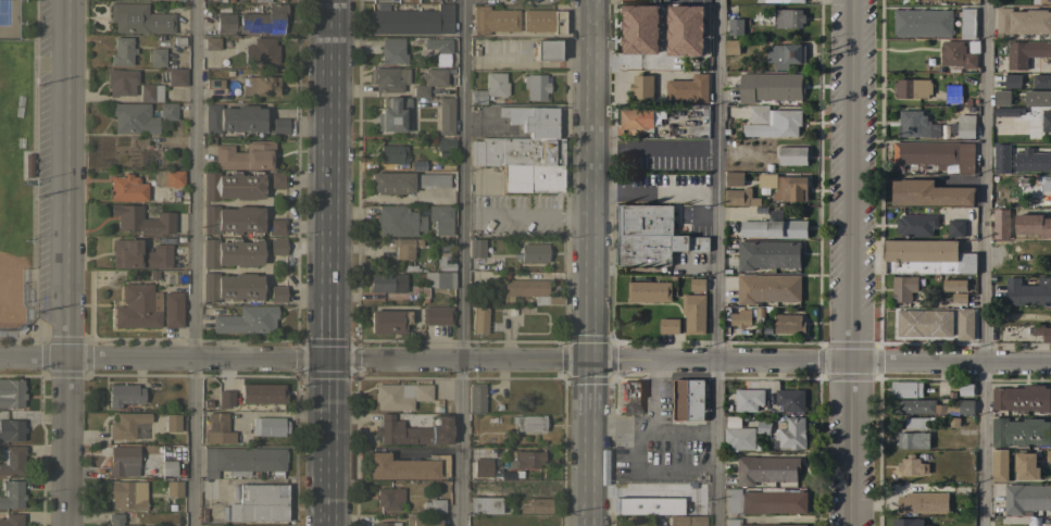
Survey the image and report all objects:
building: (779, 1)
building: (1042, 1)
park: (8, 18)
building: (139, 18)
building: (788, 18)
building: (263, 20)
building: (411, 20)
building: (493, 20)
building: (542, 21)
building: (225, 23)
building: (922, 23)
building: (1022, 23)
building: (967, 24)
building: (735, 26)
building: (640, 29)
building: (685, 30)
building: (212, 43)
building: (437, 43)
building: (731, 47)
building: (261, 50)
building: (391, 50)
building: (547, 50)
building: (122, 51)
building: (1025, 53)
building: (960, 54)
building: (786, 55)
building: (157, 57)
building: (441, 59)
road: (652, 60)
building: (176, 77)
building: (389, 78)
building: (429, 80)
building: (1011, 80)
building: (120, 82)
building: (1041, 82)
building: (213, 83)
building: (259, 85)
building: (535, 86)
building: (641, 87)
building: (489, 88)
building: (911, 88)
building: (687, 90)
building: (150, 92)
building: (953, 93)
building: (1001, 98)
building: (1038, 98)
building: (771, 103)
building: (167, 111)
building: (1006, 112)
building: (393, 114)
building: (446, 116)
building: (133, 117)
building: (233, 118)
building: (640, 118)
building: (531, 120)
building: (1046, 121)
building: (278, 125)
building: (915, 125)
building: (963, 126)
building: (208, 140)
building: (446, 143)
building: (390, 153)
building: (934, 154)
building: (245, 155)
building: (792, 155)
building: (1000, 158)
building: (522, 161)
building: (27, 165)
park: (15, 166)
building: (414, 166)
building: (1047, 166)
building: (168, 178)
building: (734, 178)
building: (277, 179)
road: (329, 179)
building: (404, 181)
building: (1044, 183)
building: (232, 185)
building: (783, 187)
building: (126, 188)
building: (929, 193)
building: (154, 195)
building: (173, 195)
building: (739, 198)
building: (440, 218)
building: (140, 220)
building: (232, 220)
building: (645, 220)
building: (1043, 220)
building: (399, 221)
building: (915, 225)
building: (277, 226)
building: (774, 227)
building: (955, 228)
building: (277, 246)
building: (405, 247)
building: (476, 248)
building: (655, 248)
building: (230, 252)
building: (534, 252)
building: (139, 254)
building: (767, 254)
building: (441, 255)
building: (926, 258)
road: (590, 262)
road: (849, 262)
road: (984, 262)
road: (62, 263)
road: (192, 263)
road: (461, 263)
road: (715, 263)
building: (409, 268)
building: (438, 278)
building: (386, 281)
building: (698, 285)
building: (954, 286)
building: (230, 287)
building: (903, 288)
building: (767, 289)
building: (530, 290)
building: (648, 291)
building: (1028, 292)
building: (277, 293)
building: (958, 298)
building: (137, 306)
building: (172, 309)
building: (759, 312)
building: (693, 313)
building: (436, 315)
building: (740, 318)
building: (246, 320)
building: (387, 321)
building: (480, 322)
building: (788, 324)
building: (923, 324)
building: (668, 326)
building: (1041, 331)
road: (714, 341)
road: (164, 359)
traffic signals: (329, 360)
road: (459, 360)
traffic signals: (590, 361)
road: (819, 362)
building: (904, 389)
building: (964, 390)
building: (11, 391)
building: (262, 392)
building: (123, 393)
building: (399, 394)
building: (225, 397)
building: (475, 397)
building: (630, 397)
building: (1022, 399)
building: (688, 400)
building: (747, 400)
building: (790, 400)
building: (205, 403)
building: (919, 406)
building: (965, 406)
building: (171, 422)
building: (441, 422)
building: (528, 422)
building: (915, 423)
building: (125, 424)
building: (267, 425)
building: (217, 428)
building: (389, 428)
building: (11, 429)
building: (1019, 433)
building: (792, 434)
building: (739, 438)
building: (913, 440)
road: (328, 442)
building: (177, 452)
building: (1048, 456)
building: (526, 459)
building: (12, 460)
building: (123, 460)
building: (241, 460)
building: (999, 465)
building: (1025, 465)
building: (405, 466)
building: (480, 466)
building: (912, 466)
building: (167, 467)
building: (765, 469)
building: (495, 472)
building: (506, 475)
building: (173, 488)
building: (11, 493)
building: (126, 494)
building: (388, 498)
building: (1026, 499)
building: (763, 501)
building: (923, 502)
building: (258, 503)
building: (484, 504)
building: (433, 505)
building: (537, 505)
building: (660, 505)
building: (11, 519)
building: (116, 519)
building: (650, 519)
building: (421, 521)
building: (677, 521)
building: (697, 521)
building: (731, 521)
building: (631, 522)
building: (906, 522)
building: (1044, 522)
building: (387, 524)

